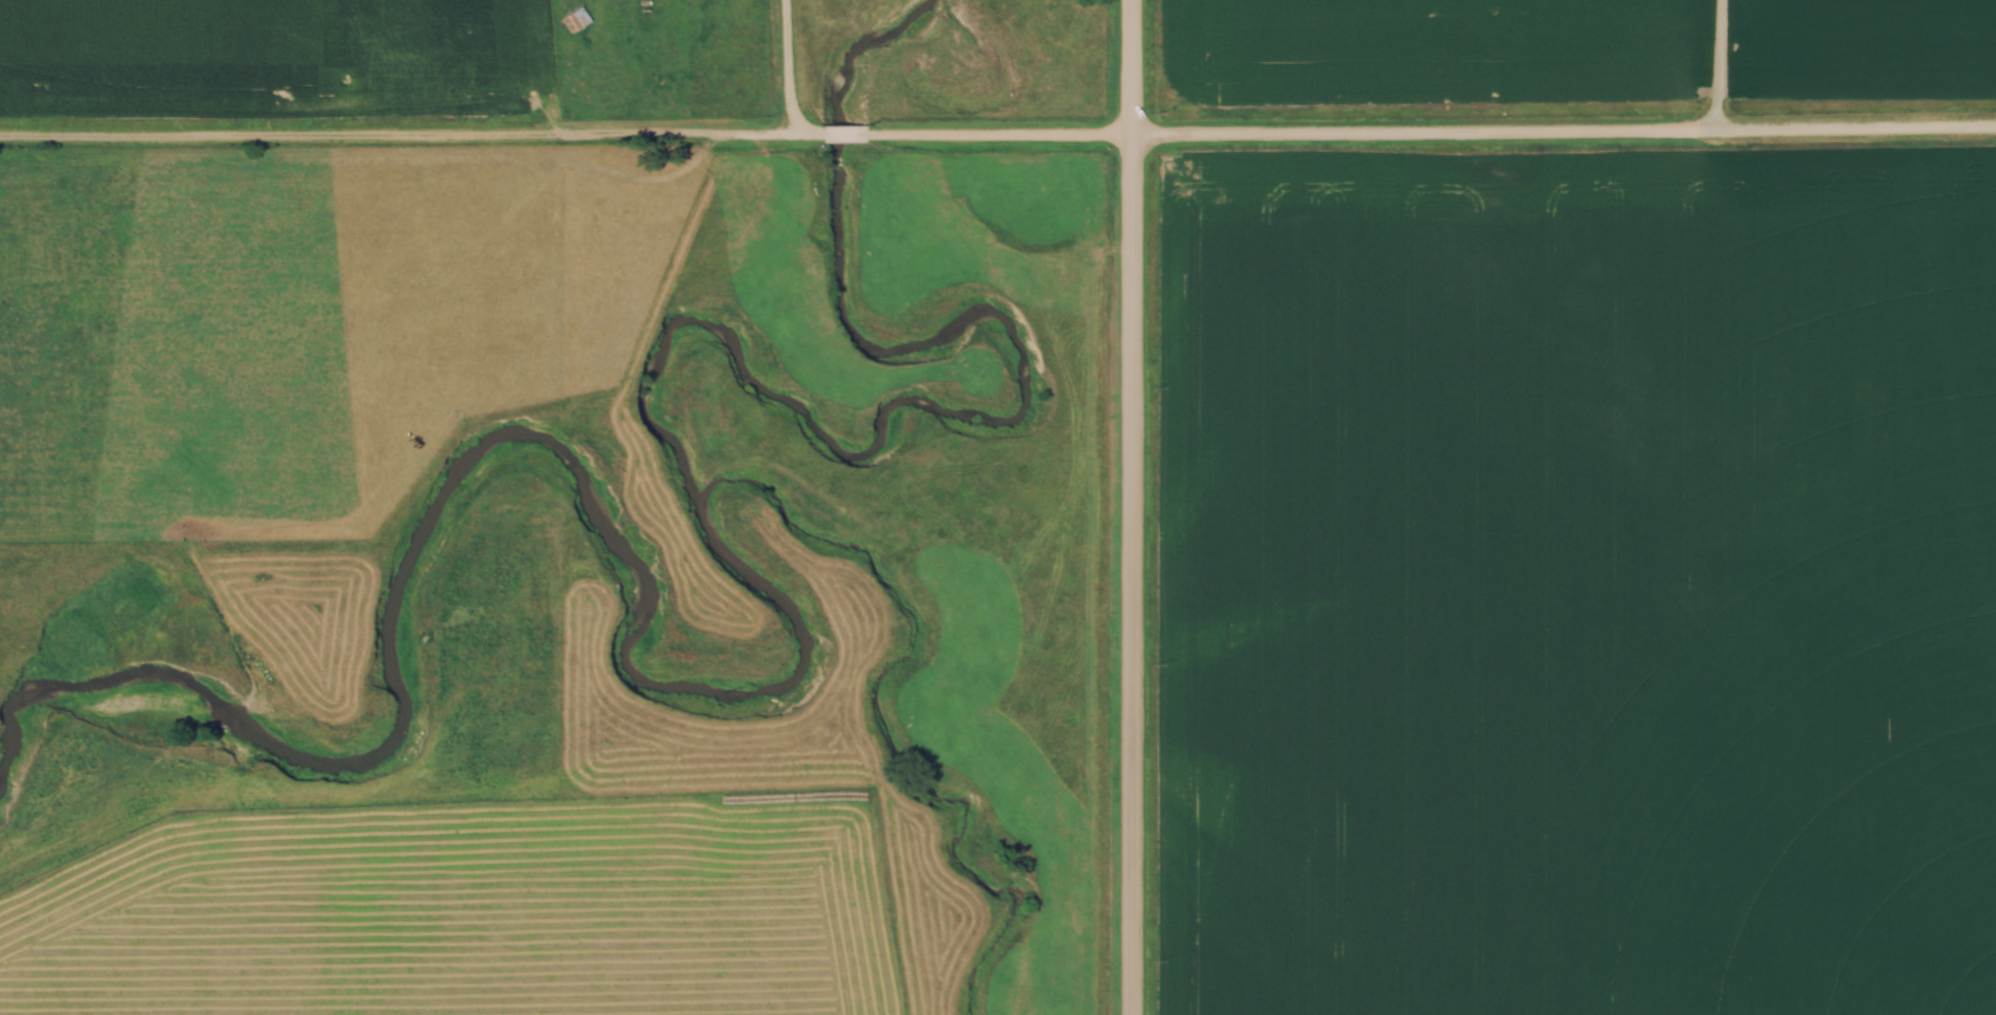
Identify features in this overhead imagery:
building: (575, 19)
road: (1719, 67)
road: (791, 68)
road: (412, 133)
road: (1563, 134)
road: (844, 137)
road: (998, 137)
road: (1133, 507)
river: (758, 585)

